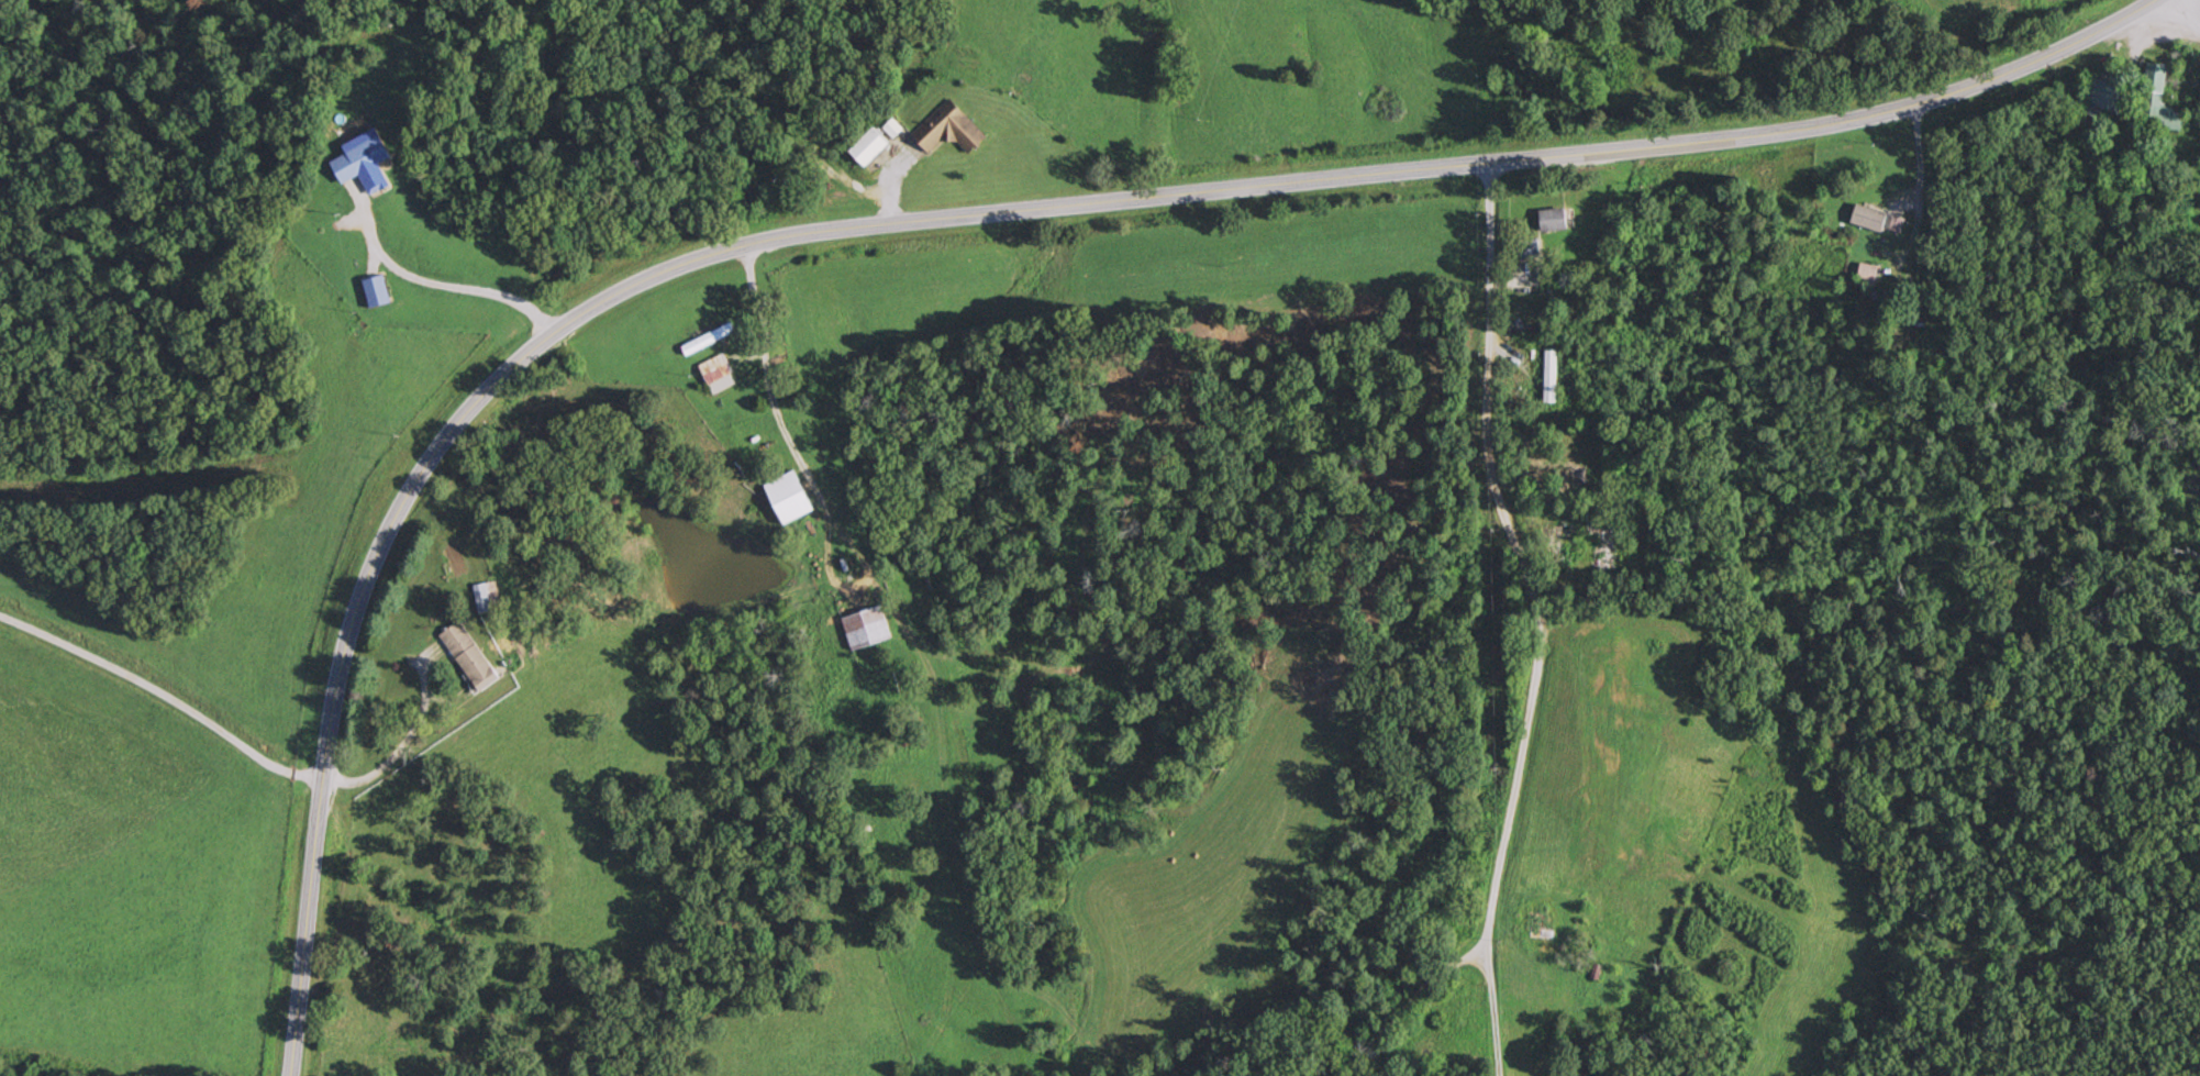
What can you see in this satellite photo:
road: (2191, 12)
building: (2110, 98)
building: (2155, 107)
building: (951, 129)
building: (869, 146)
building: (362, 158)
road: (936, 210)
building: (1555, 219)
building: (1869, 273)
building: (378, 290)
building: (709, 339)
building: (1551, 373)
building: (718, 374)
building: (790, 497)
building: (1608, 545)
building: (1557, 547)
building: (487, 597)
road: (1513, 620)
building: (867, 628)
building: (470, 655)
road: (155, 714)
building: (1599, 873)
building: (1545, 927)
road: (1410, 1019)

